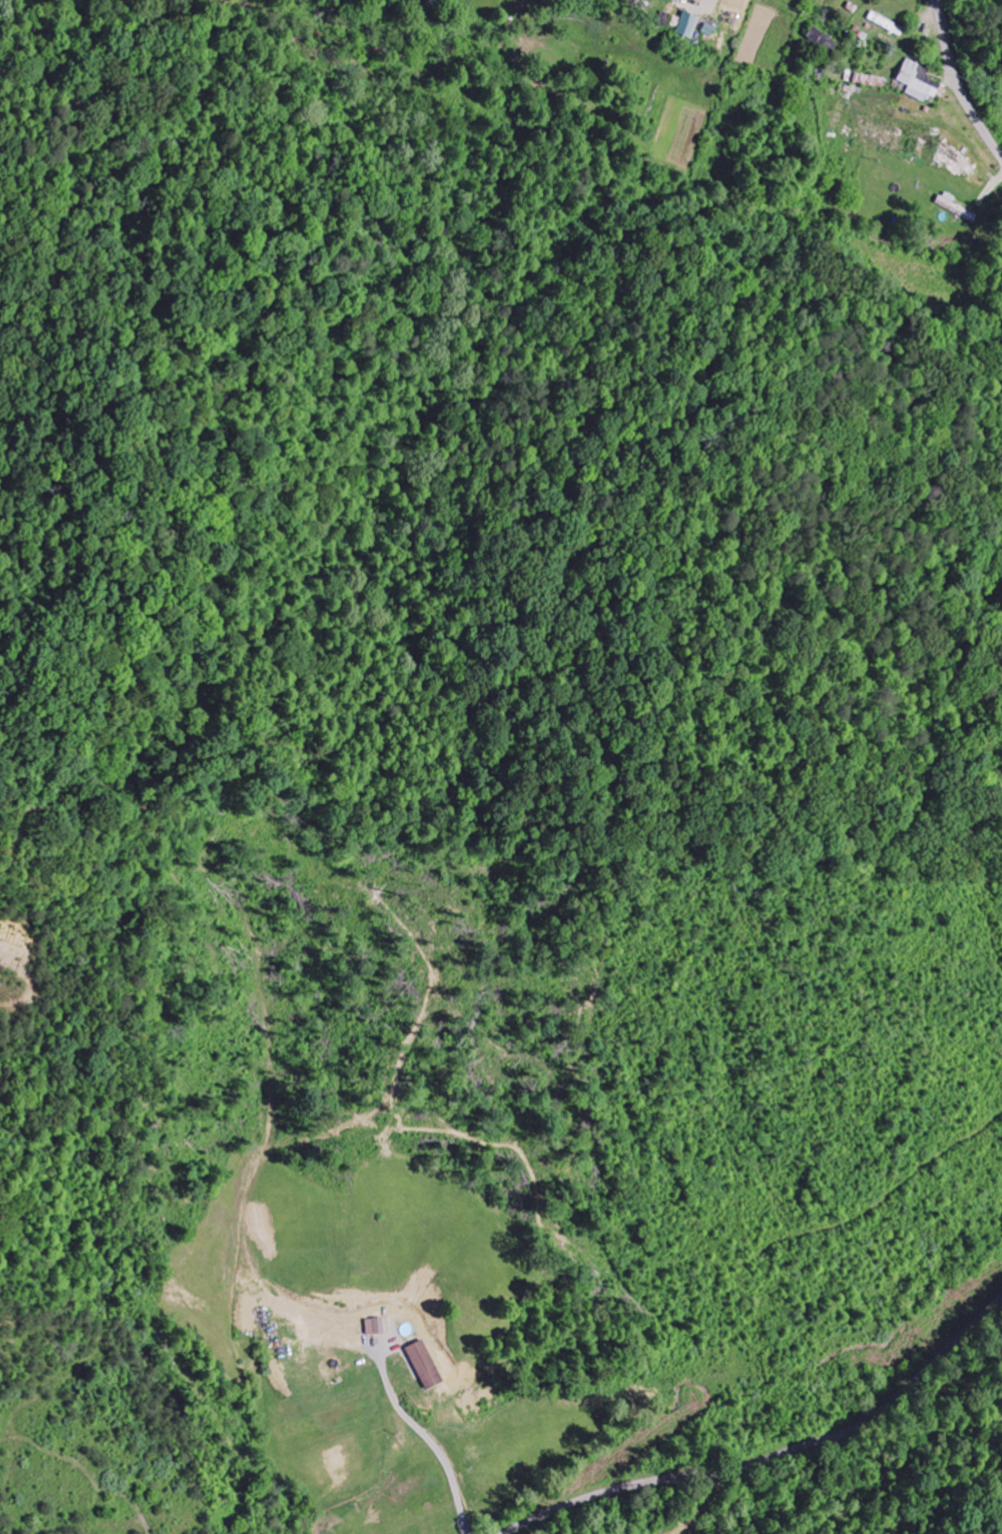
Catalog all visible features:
building: (689, 25)
building: (823, 40)
building: (871, 81)
building: (918, 82)
road: (958, 82)
building: (426, 1365)
road: (778, 1458)
road: (582, 1494)

